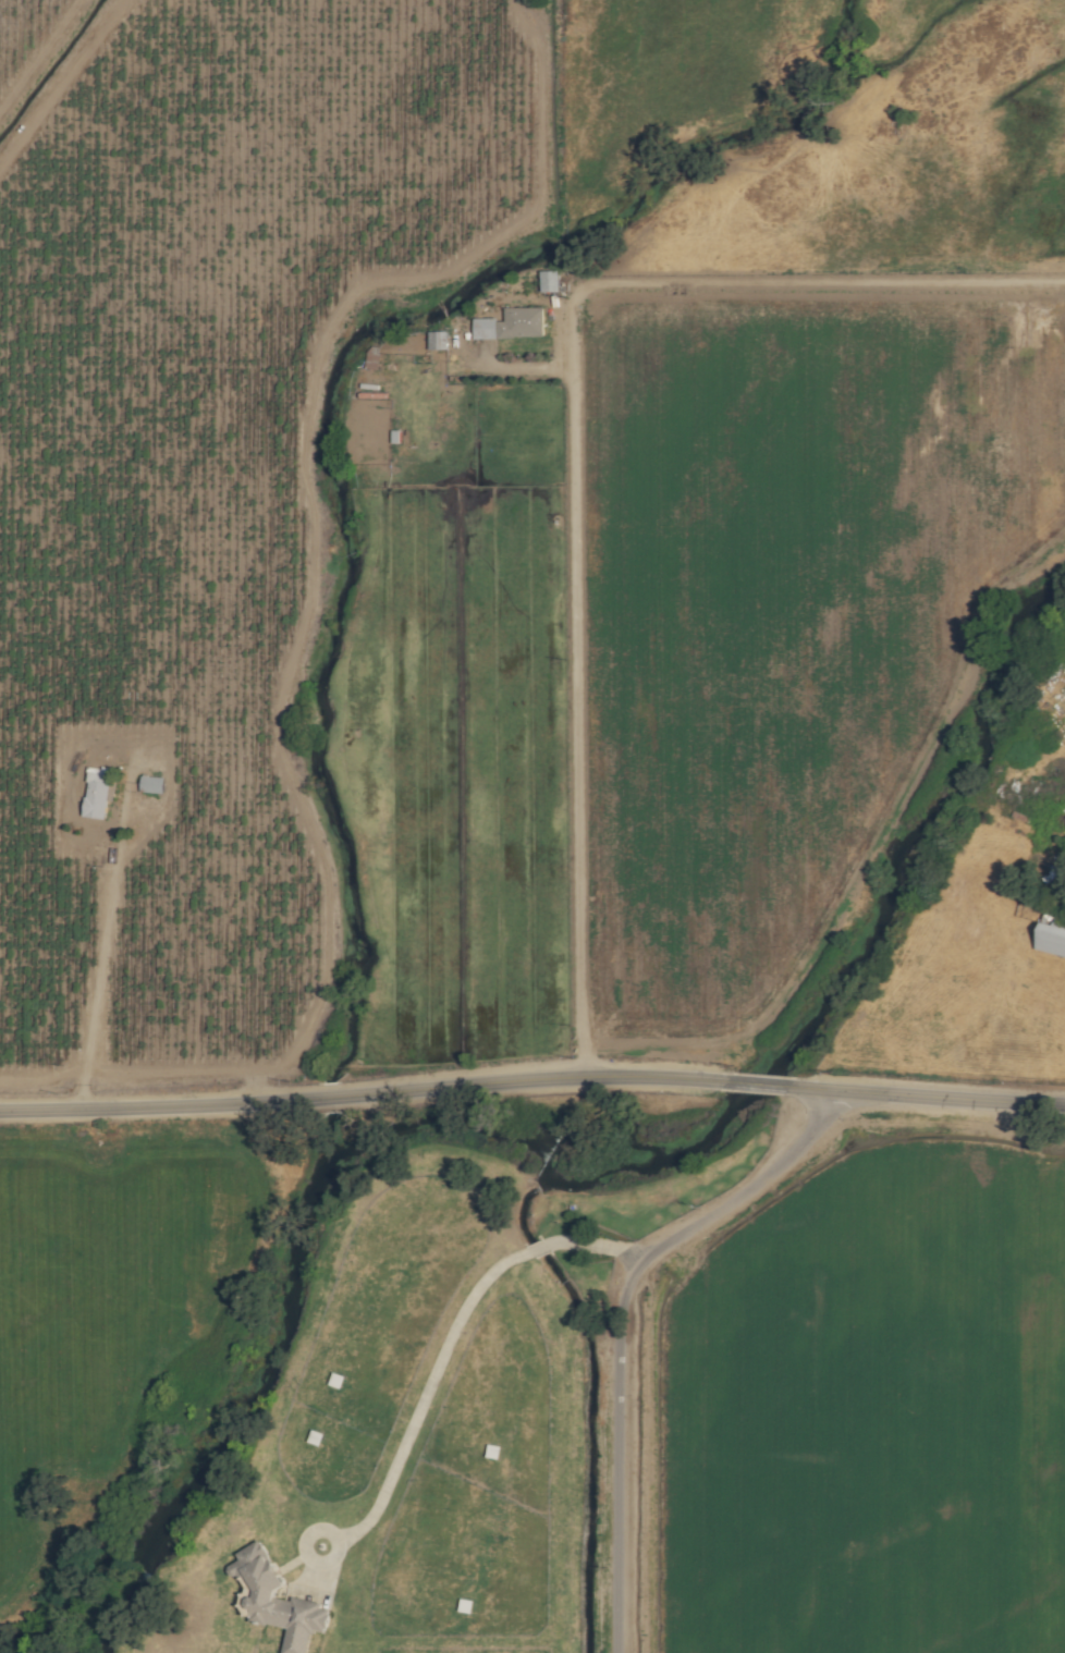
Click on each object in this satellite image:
crop: (661, 79)
crop: (923, 150)
building: (546, 281)
building: (509, 325)
building: (433, 341)
road: (518, 368)
road: (573, 440)
crop: (210, 469)
building: (148, 785)
building: (94, 795)
road: (775, 1087)
road: (354, 1095)
road: (953, 1099)
road: (596, 1244)
road: (538, 1248)
road: (620, 1322)
crop: (150, 1345)
road: (424, 1400)
building: (270, 1601)

